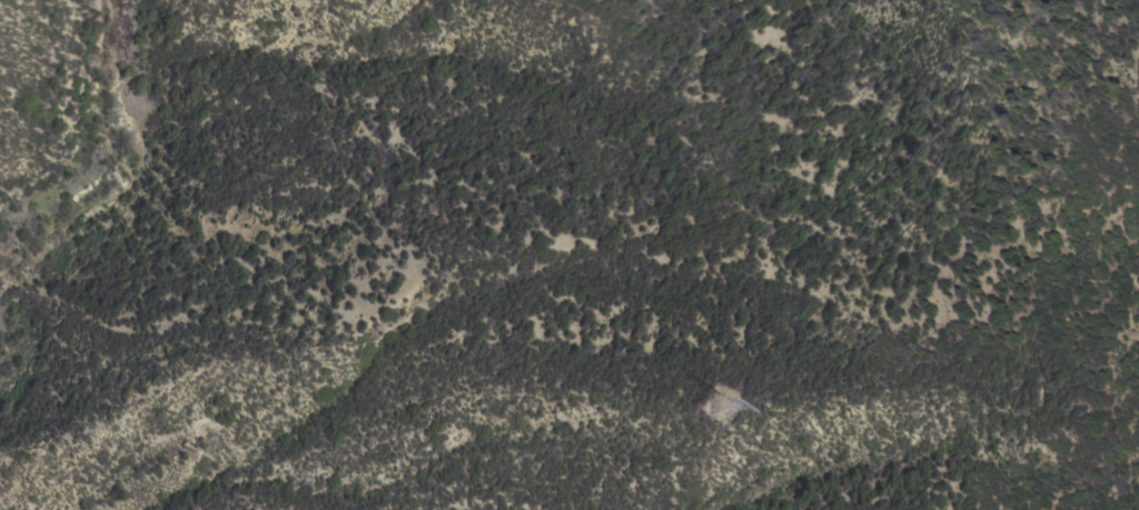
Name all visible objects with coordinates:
power tower: (735, 392)

